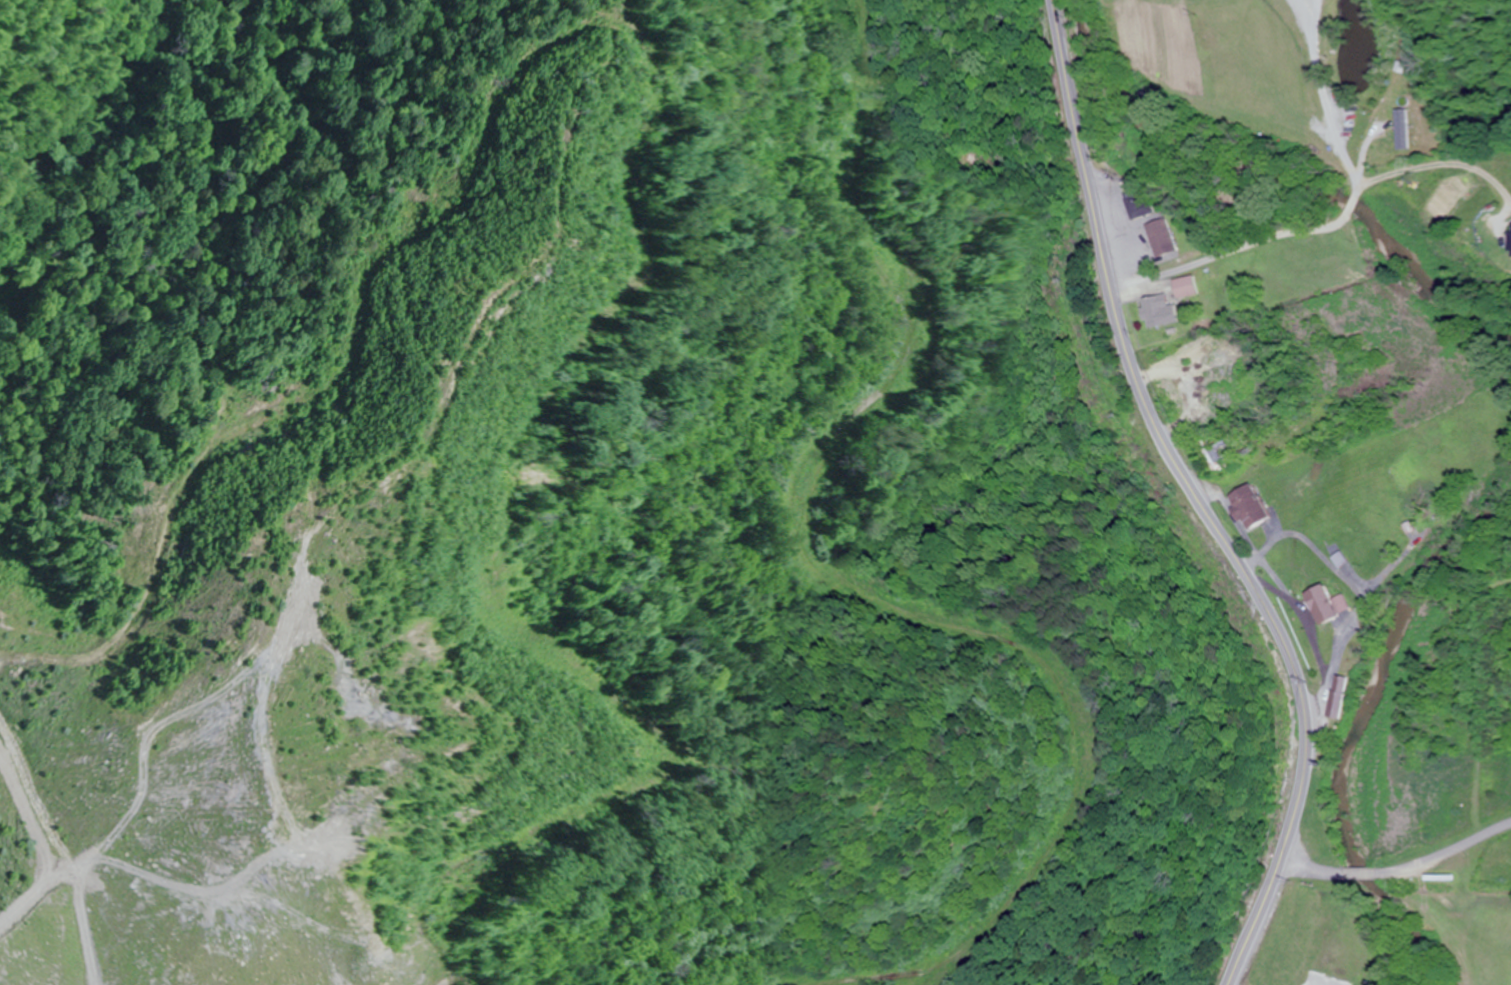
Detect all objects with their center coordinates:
road: (1311, 16)
building: (1209, 25)
road: (1329, 108)
building: (1384, 136)
road: (1422, 164)
building: (1139, 203)
building: (1161, 236)
road: (1247, 246)
building: (1184, 286)
building: (1157, 311)
building: (1217, 456)
road: (1197, 501)
building: (1245, 506)
building: (1340, 603)
building: (1319, 604)
building: (1342, 920)
building: (1294, 979)
building: (1357, 984)

